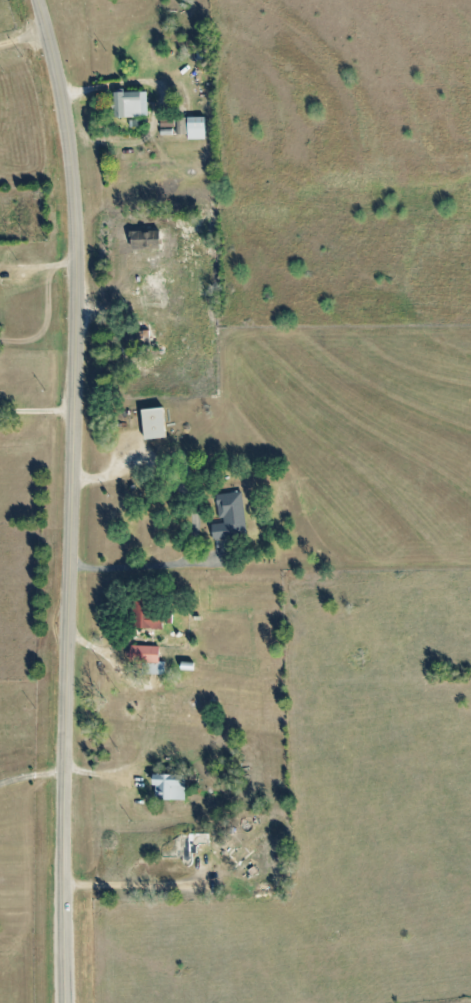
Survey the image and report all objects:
road: (22, 37)
road: (94, 88)
building: (131, 104)
building: (172, 125)
building: (195, 128)
road: (42, 266)
building: (5, 278)
building: (128, 288)
road: (96, 310)
building: (138, 339)
road: (35, 411)
building: (153, 424)
road: (162, 472)
road: (69, 499)
building: (227, 516)
road: (145, 566)
building: (145, 613)
building: (143, 653)
road: (31, 775)
building: (170, 786)
building: (182, 848)
road: (137, 884)

